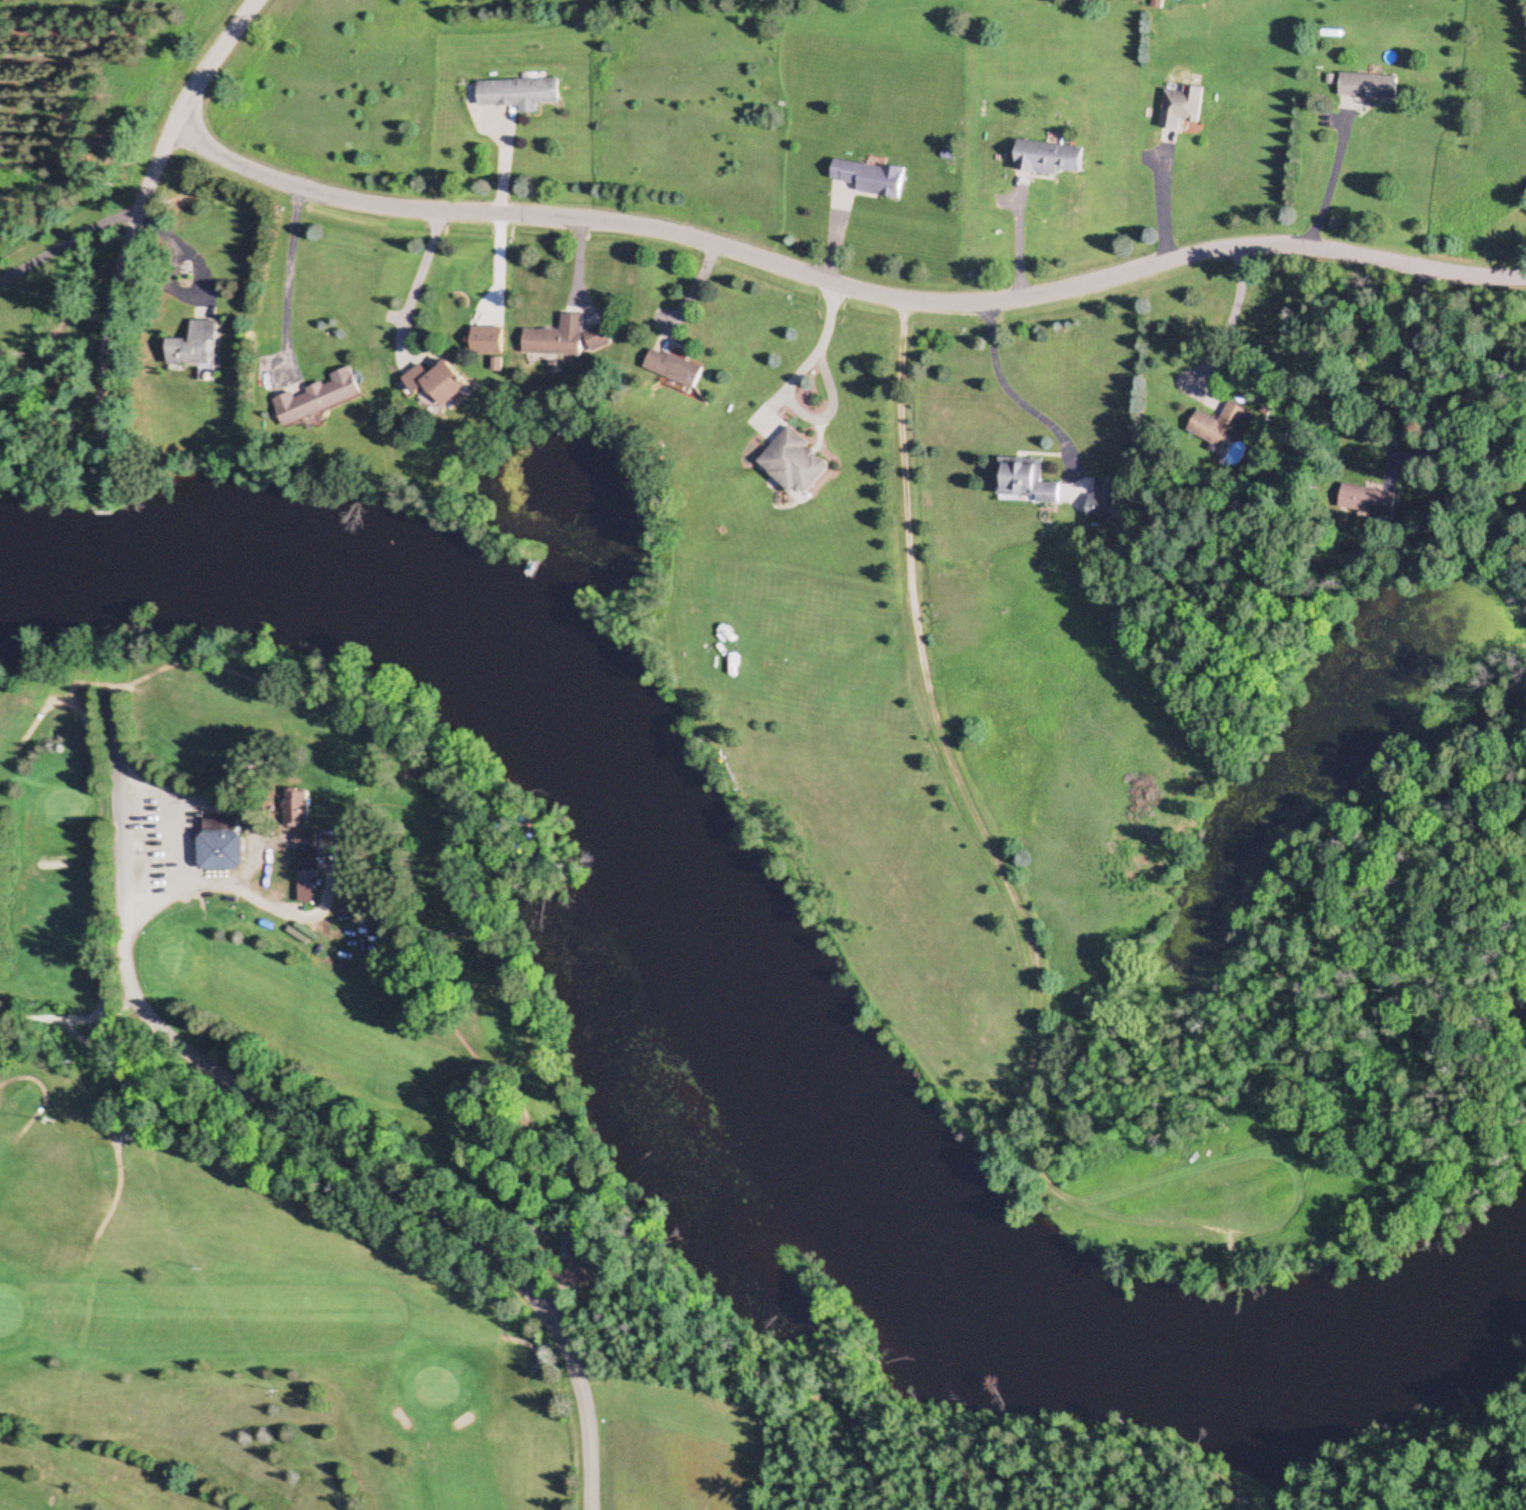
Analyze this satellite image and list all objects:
building: (1369, 87)
building: (518, 94)
building: (1182, 107)
building: (1048, 161)
building: (868, 179)
road: (135, 235)
road: (839, 287)
building: (569, 339)
building: (197, 348)
building: (677, 369)
building: (439, 384)
building: (321, 399)
road: (1027, 406)
building: (1222, 431)
building: (797, 463)
building: (1029, 483)
building: (1081, 504)
building: (294, 809)
building: (220, 843)
parking lot: (145, 856)
river: (750, 1000)
park: (260, 1126)
road: (317, 1142)

